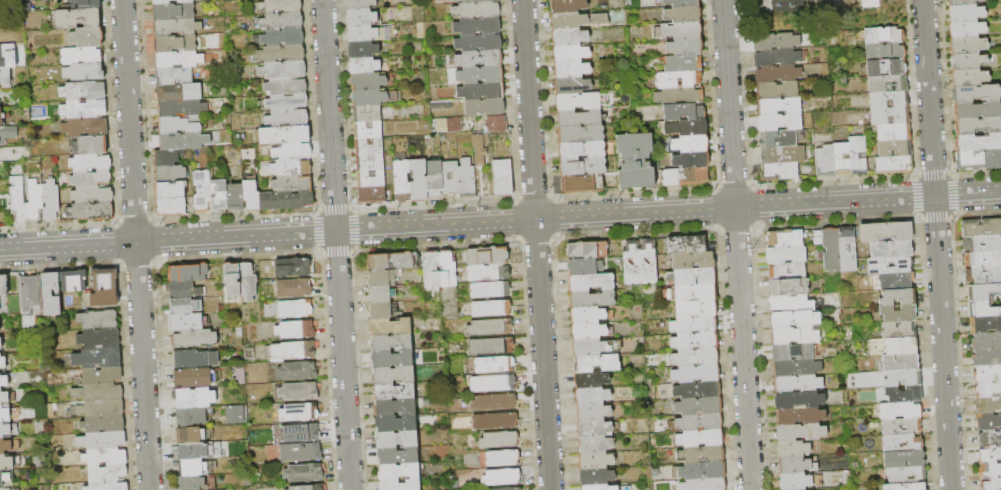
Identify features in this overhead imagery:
building: (465, 0)
building: (481, 1)
building: (171, 2)
building: (963, 2)
building: (681, 3)
building: (867, 3)
building: (87, 4)
building: (360, 4)
building: (280, 6)
building: (567, 6)
building: (477, 10)
building: (174, 12)
building: (965, 13)
building: (682, 15)
building: (361, 17)
building: (77, 18)
building: (576, 20)
building: (282, 21)
building: (477, 27)
building: (177, 28)
building: (966, 29)
building: (678, 31)
building: (368, 33)
building: (884, 35)
building: (569, 37)
building: (86, 38)
building: (280, 38)
building: (776, 41)
building: (478, 43)
building: (176, 44)
building: (967, 45)
building: (685, 46)
building: (363, 49)
building: (885, 51)
building: (280, 54)
building: (570, 54)
building: (8, 56)
building: (80, 56)
building: (777, 58)
building: (479, 59)
building: (179, 60)
building: (969, 61)
building: (683, 64)
building: (364, 65)
building: (886, 67)
building: (283, 70)
building: (571, 70)
building: (84, 72)
building: (778, 74)
building: (480, 75)
building: (175, 76)
building: (969, 77)
building: (5, 78)
building: (679, 80)
building: (368, 81)
building: (888, 84)
building: (286, 86)
building: (572, 86)
building: (82, 91)
building: (481, 91)
building: (777, 91)
building: (179, 92)
building: (976, 93)
building: (679, 96)
building: (372, 97)
road: (928, 98)
building: (889, 100)
building: (581, 101)
building: (287, 102)
building: (441, 105)
building: (778, 106)
building: (485, 107)
building: (182, 108)
building: (83, 109)
building: (976, 110)
building: (683, 112)
building: (368, 114)
building: (890, 116)
building: (1, 118)
building: (288, 118)
building: (580, 118)
road: (129, 121)
building: (779, 122)
building: (180, 124)
building: (496, 124)
building: (454, 125)
building: (978, 126)
building: (84, 127)
building: (686, 128)
building: (368, 130)
building: (893, 132)
building: (7, 134)
building: (284, 134)
building: (580, 134)
building: (777, 139)
building: (183, 140)
building: (978, 143)
building: (690, 144)
building: (90, 146)
building: (369, 146)
building: (894, 148)
building: (479, 150)
building: (581, 150)
building: (292, 151)
building: (782, 155)
building: (858, 155)
building: (168, 156)
building: (842, 159)
building: (691, 160)
building: (978, 160)
building: (635, 161)
building: (825, 161)
building: (90, 163)
building: (370, 163)
building: (894, 165)
building: (582, 166)
building: (290, 168)
building: (780, 172)
building: (170, 173)
building: (685, 177)
building: (90, 178)
building: (450, 178)
building: (503, 178)
building: (371, 179)
building: (435, 179)
building: (467, 179)
building: (419, 180)
building: (402, 181)
building: (582, 183)
building: (291, 184)
building: (170, 190)
building: (202, 190)
building: (92, 195)
building: (251, 195)
building: (371, 195)
building: (219, 196)
building: (235, 197)
building: (20, 198)
building: (35, 199)
building: (51, 200)
building: (285, 200)
building: (171, 207)
building: (90, 211)
road: (568, 217)
building: (981, 227)
building: (885, 232)
building: (785, 239)
building: (981, 243)
road: (336, 244)
building: (686, 244)
road: (536, 245)
road: (736, 245)
road: (68, 246)
building: (587, 249)
building: (831, 249)
building: (847, 250)
building: (891, 250)
building: (786, 255)
building: (487, 256)
building: (693, 260)
building: (982, 260)
building: (648, 261)
building: (390, 262)
building: (631, 262)
building: (584, 266)
building: (890, 266)
building: (294, 269)
building: (447, 270)
building: (432, 271)
building: (187, 273)
building: (488, 273)
building: (982, 276)
building: (692, 277)
building: (104, 279)
building: (232, 279)
building: (382, 279)
building: (787, 279)
building: (74, 281)
building: (897, 281)
building: (247, 282)
building: (590, 282)
building: (3, 286)
building: (294, 288)
building: (183, 290)
building: (490, 290)
building: (982, 291)
building: (679, 294)
building: (51, 295)
building: (379, 295)
building: (898, 297)
building: (104, 298)
building: (591, 299)
building: (29, 300)
building: (791, 303)
building: (185, 306)
building: (295, 309)
building: (491, 309)
building: (695, 309)
building: (983, 309)
building: (380, 311)
building: (898, 314)
building: (589, 315)
building: (98, 320)
building: (794, 320)
building: (185, 322)
building: (694, 325)
building: (985, 325)
building: (0, 327)
building: (390, 327)
building: (295, 328)
building: (489, 328)
building: (899, 330)
building: (590, 331)
building: (792, 336)
building: (99, 339)
building: (195, 339)
building: (695, 341)
building: (985, 341)
building: (1, 343)
building: (391, 343)
road: (942, 343)
building: (490, 346)
building: (595, 346)
building: (901, 346)
building: (0, 349)
building: (293, 351)
building: (793, 352)
building: (250, 354)
building: (97, 358)
building: (695, 358)
building: (986, 358)
building: (195, 359)
building: (392, 359)
building: (596, 363)
building: (900, 363)
building: (3, 365)
building: (494, 365)
road: (143, 366)
building: (796, 368)
building: (297, 371)
building: (696, 373)
building: (986, 374)
building: (393, 375)
building: (99, 376)
building: (241, 376)
building: (192, 378)
building: (591, 379)
building: (903, 379)
building: (3, 381)
building: (492, 384)
building: (797, 384)
building: (697, 389)
building: (987, 390)
building: (395, 391)
building: (98, 392)
building: (296, 392)
building: (904, 395)
building: (591, 396)
building: (4, 397)
building: (194, 398)
building: (799, 401)
building: (494, 402)
building: (699, 406)
building: (987, 406)
building: (395, 407)
building: (99, 408)
building: (900, 411)
building: (593, 412)
building: (300, 413)
building: (5, 414)
building: (235, 415)
building: (191, 416)
building: (799, 417)
building: (495, 421)
building: (988, 422)
building: (396, 423)
building: (697, 423)
building: (103, 424)
building: (902, 427)
building: (593, 429)
building: (5, 430)
building: (800, 432)
building: (301, 433)
building: (190, 436)
building: (700, 438)
building: (989, 438)
building: (397, 439)
building: (106, 440)
building: (499, 440)
building: (902, 443)
building: (595, 445)
building: (5, 446)
building: (793, 449)
building: (194, 452)
building: (301, 452)
building: (398, 455)
building: (701, 455)
building: (989, 455)
building: (104, 457)
building: (503, 458)
building: (904, 459)
building: (595, 461)
building: (6, 462)
building: (793, 466)
building: (194, 468)
building: (700, 471)
building: (989, 471)
building: (107, 472)
building: (399, 472)
building: (304, 473)
building: (906, 475)
building: (597, 476)
building: (502, 477)
building: (4, 478)
building: (795, 482)
building: (193, 483)
building: (704, 484)
building: (399, 485)
building: (991, 485)
building: (107, 486)
building: (905, 486)
building: (307, 487)
building: (601, 487)
building: (4, 488)
building: (10, 489)
building: (509, 489)

